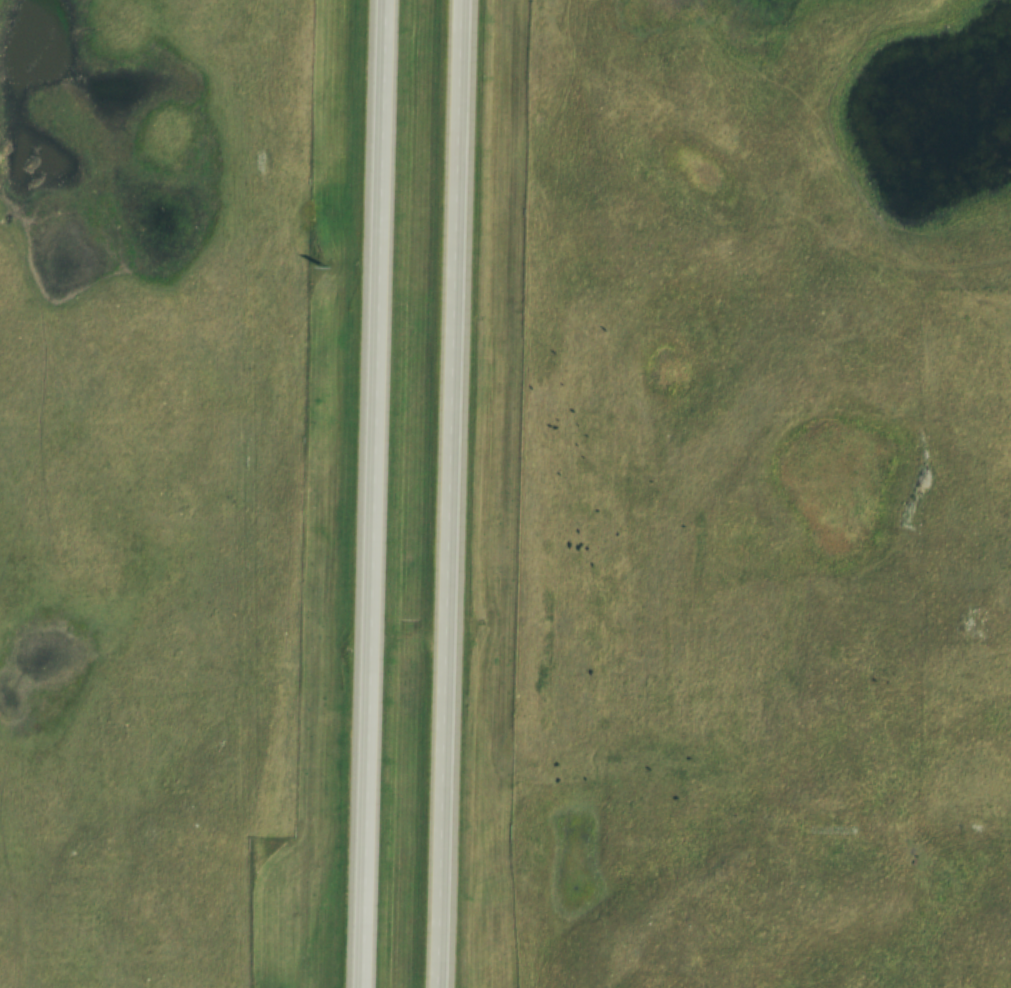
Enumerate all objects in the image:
road: (376, 494)
road: (459, 494)

